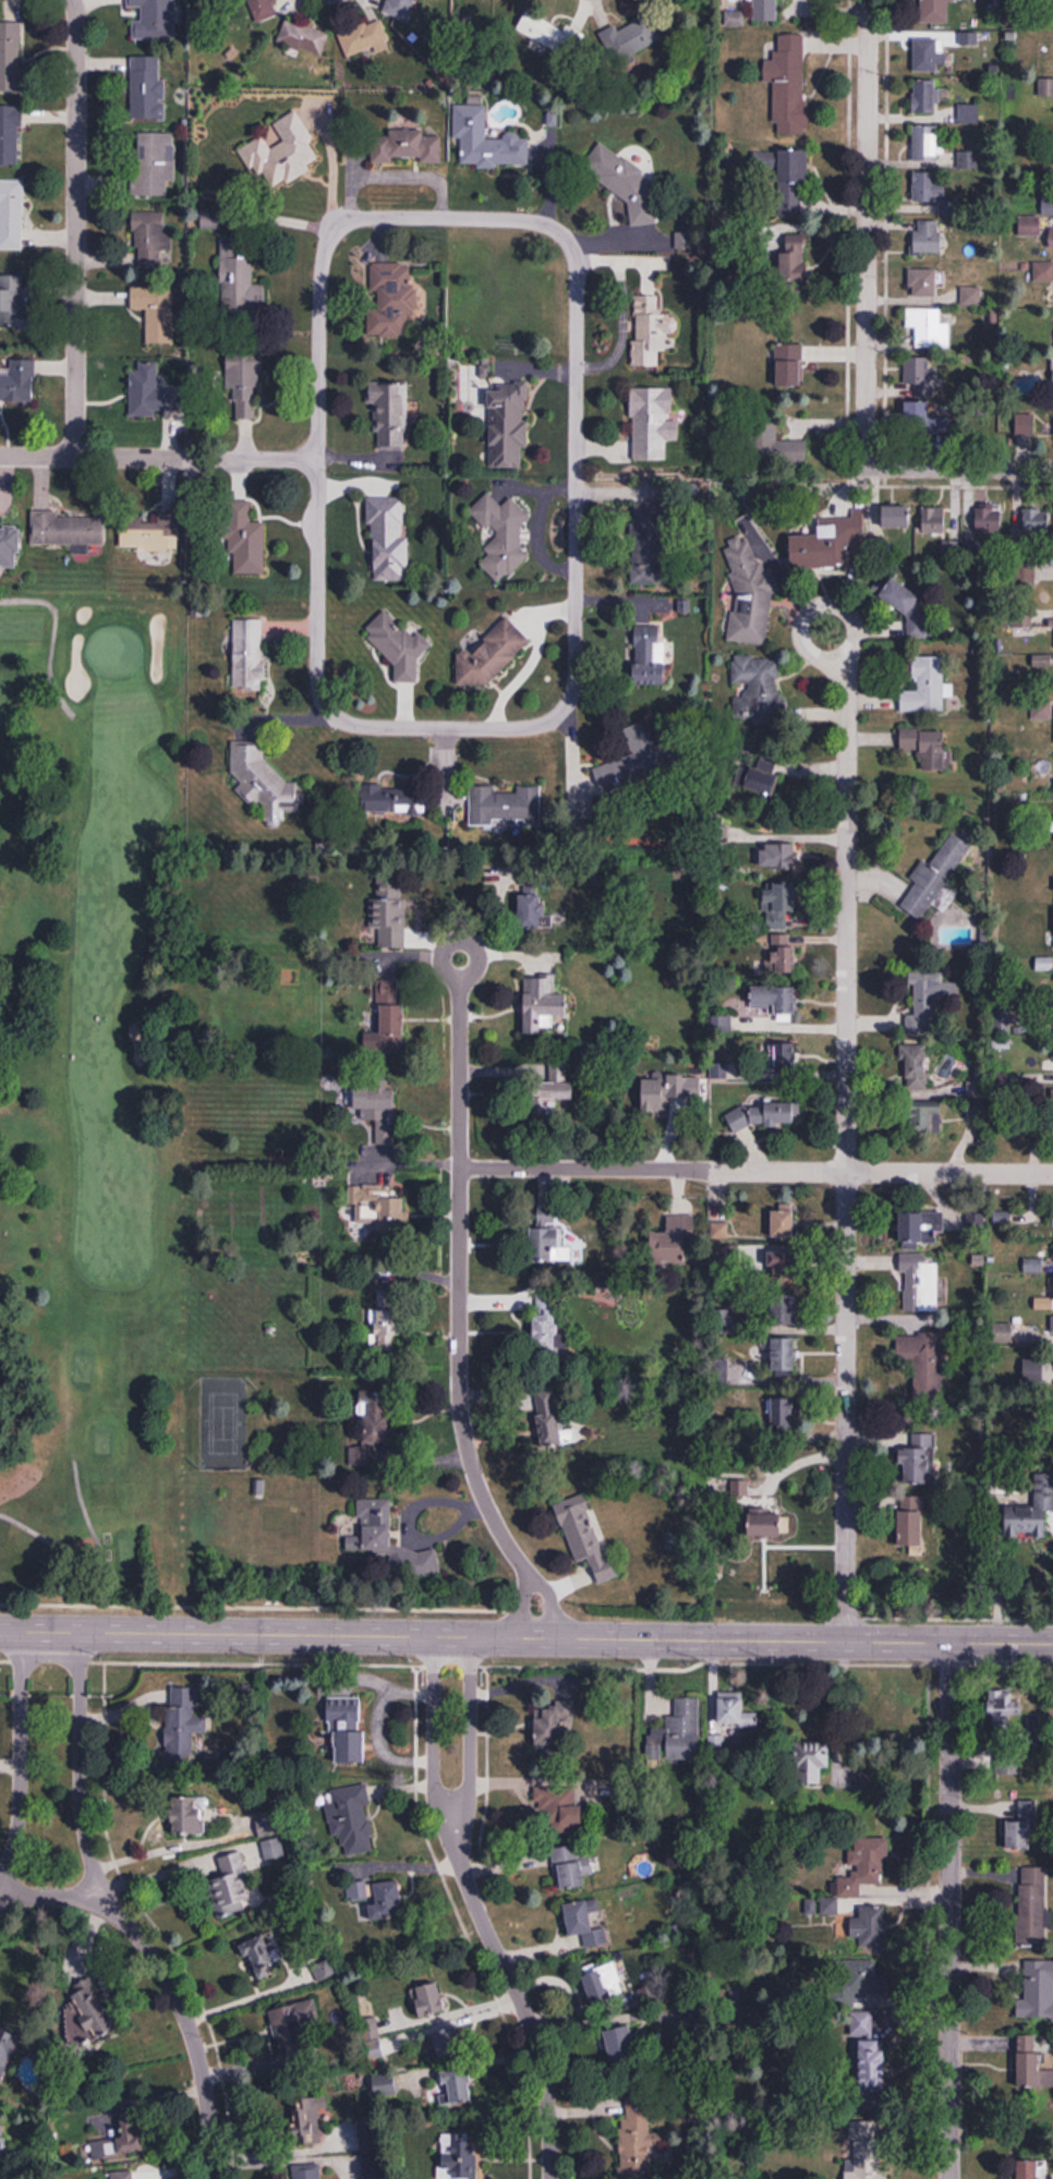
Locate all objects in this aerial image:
building: (265, 9)
building: (399, 9)
building: (765, 11)
building: (936, 11)
building: (154, 19)
building: (547, 35)
building: (362, 37)
building: (303, 38)
building: (632, 39)
building: (929, 53)
building: (9, 57)
building: (788, 86)
building: (146, 88)
building: (924, 96)
building: (968, 114)
building: (10, 135)
building: (486, 141)
building: (927, 143)
building: (407, 147)
building: (280, 153)
building: (152, 162)
building: (615, 171)
building: (794, 181)
building: (929, 189)
building: (1048, 204)
building: (11, 214)
road: (76, 229)
road: (867, 231)
building: (928, 238)
building: (1051, 239)
building: (795, 257)
building: (152, 269)
building: (1044, 273)
building: (923, 283)
building: (240, 285)
building: (390, 300)
building: (12, 301)
building: (929, 328)
building: (650, 331)
building: (789, 365)
building: (1052, 371)
building: (918, 378)
building: (244, 379)
building: (19, 383)
building: (149, 395)
building: (387, 411)
building: (925, 420)
building: (653, 423)
building: (507, 425)
building: (1029, 425)
building: (777, 450)
road: (158, 458)
road: (961, 468)
road: (317, 471)
road: (576, 473)
building: (896, 518)
building: (989, 520)
building: (1036, 520)
building: (934, 521)
building: (63, 528)
building: (147, 530)
building: (500, 532)
building: (242, 536)
building: (385, 536)
building: (833, 544)
building: (7, 546)
building: (1025, 574)
building: (748, 593)
building: (899, 596)
road: (52, 637)
building: (398, 644)
building: (245, 653)
building: (488, 654)
building: (649, 655)
building: (755, 677)
building: (925, 686)
building: (927, 746)
building: (262, 778)
building: (762, 780)
building: (389, 798)
building: (501, 804)
building: (778, 855)
building: (934, 876)
building: (782, 904)
building: (531, 907)
building: (386, 910)
building: (783, 954)
building: (928, 991)
building: (777, 1000)
building: (542, 1002)
building: (385, 1018)
park: (93, 1055)
building: (779, 1055)
building: (916, 1066)
building: (555, 1088)
building: (662, 1091)
building: (375, 1107)
building: (762, 1113)
building: (923, 1114)
road: (846, 1117)
road: (757, 1170)
building: (377, 1211)
building: (1002, 1216)
building: (976, 1221)
building: (783, 1222)
building: (923, 1226)
building: (674, 1233)
building: (548, 1244)
road: (459, 1249)
building: (919, 1283)
building: (1046, 1305)
building: (785, 1308)
building: (383, 1322)
building: (1052, 1325)
building: (545, 1327)
building: (1003, 1332)
building: (784, 1356)
building: (782, 1414)
park: (221, 1420)
building: (368, 1427)
building: (552, 1429)
building: (918, 1460)
building: (1030, 1511)
building: (767, 1522)
building: (910, 1532)
building: (585, 1534)
building: (386, 1540)
road: (93, 1560)
road: (549, 1606)
road: (523, 1607)
road: (39, 1630)
road: (567, 1637)
building: (1003, 1709)
building: (735, 1710)
building: (182, 1726)
building: (347, 1730)
building: (553, 1730)
building: (677, 1732)
road: (470, 1735)
road: (434, 1736)
road: (21, 1757)
road: (10, 1758)
building: (813, 1764)
road: (81, 1766)
building: (559, 1806)
building: (186, 1815)
building: (351, 1819)
building: (1024, 1827)
building: (572, 1863)
building: (857, 1873)
building: (230, 1879)
building: (377, 1898)
road: (51, 1899)
road: (949, 1911)
building: (1031, 1911)
building: (584, 1922)
building: (869, 1925)
building: (262, 1958)
building: (74, 1966)
building: (604, 1983)
building: (1037, 1990)
road: (245, 1997)
building: (428, 1999)
road: (519, 2001)
building: (88, 2018)
road: (189, 2026)
building: (296, 2029)
building: (375, 2042)
building: (447, 2043)
building: (621, 2046)
building: (7, 2049)
building: (1032, 2063)
building: (455, 2085)
building: (384, 2086)
building: (314, 2120)
building: (636, 2136)
building: (119, 2143)
building: (866, 2151)
building: (460, 2156)
building: (1031, 2169)
building: (311, 2174)
building: (130, 2176)

